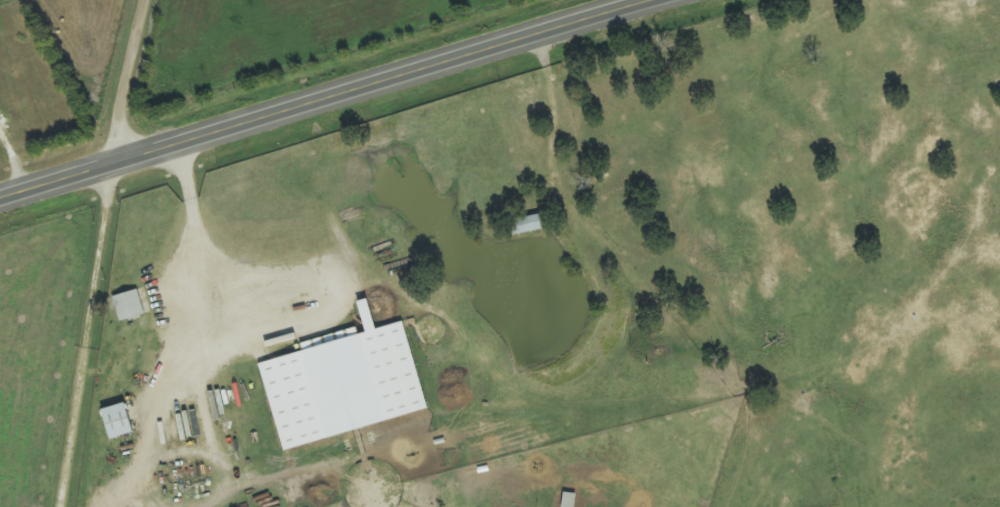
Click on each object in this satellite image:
road: (130, 82)
road: (336, 101)
building: (533, 224)
building: (131, 306)
road: (96, 337)
building: (348, 385)
building: (121, 422)

